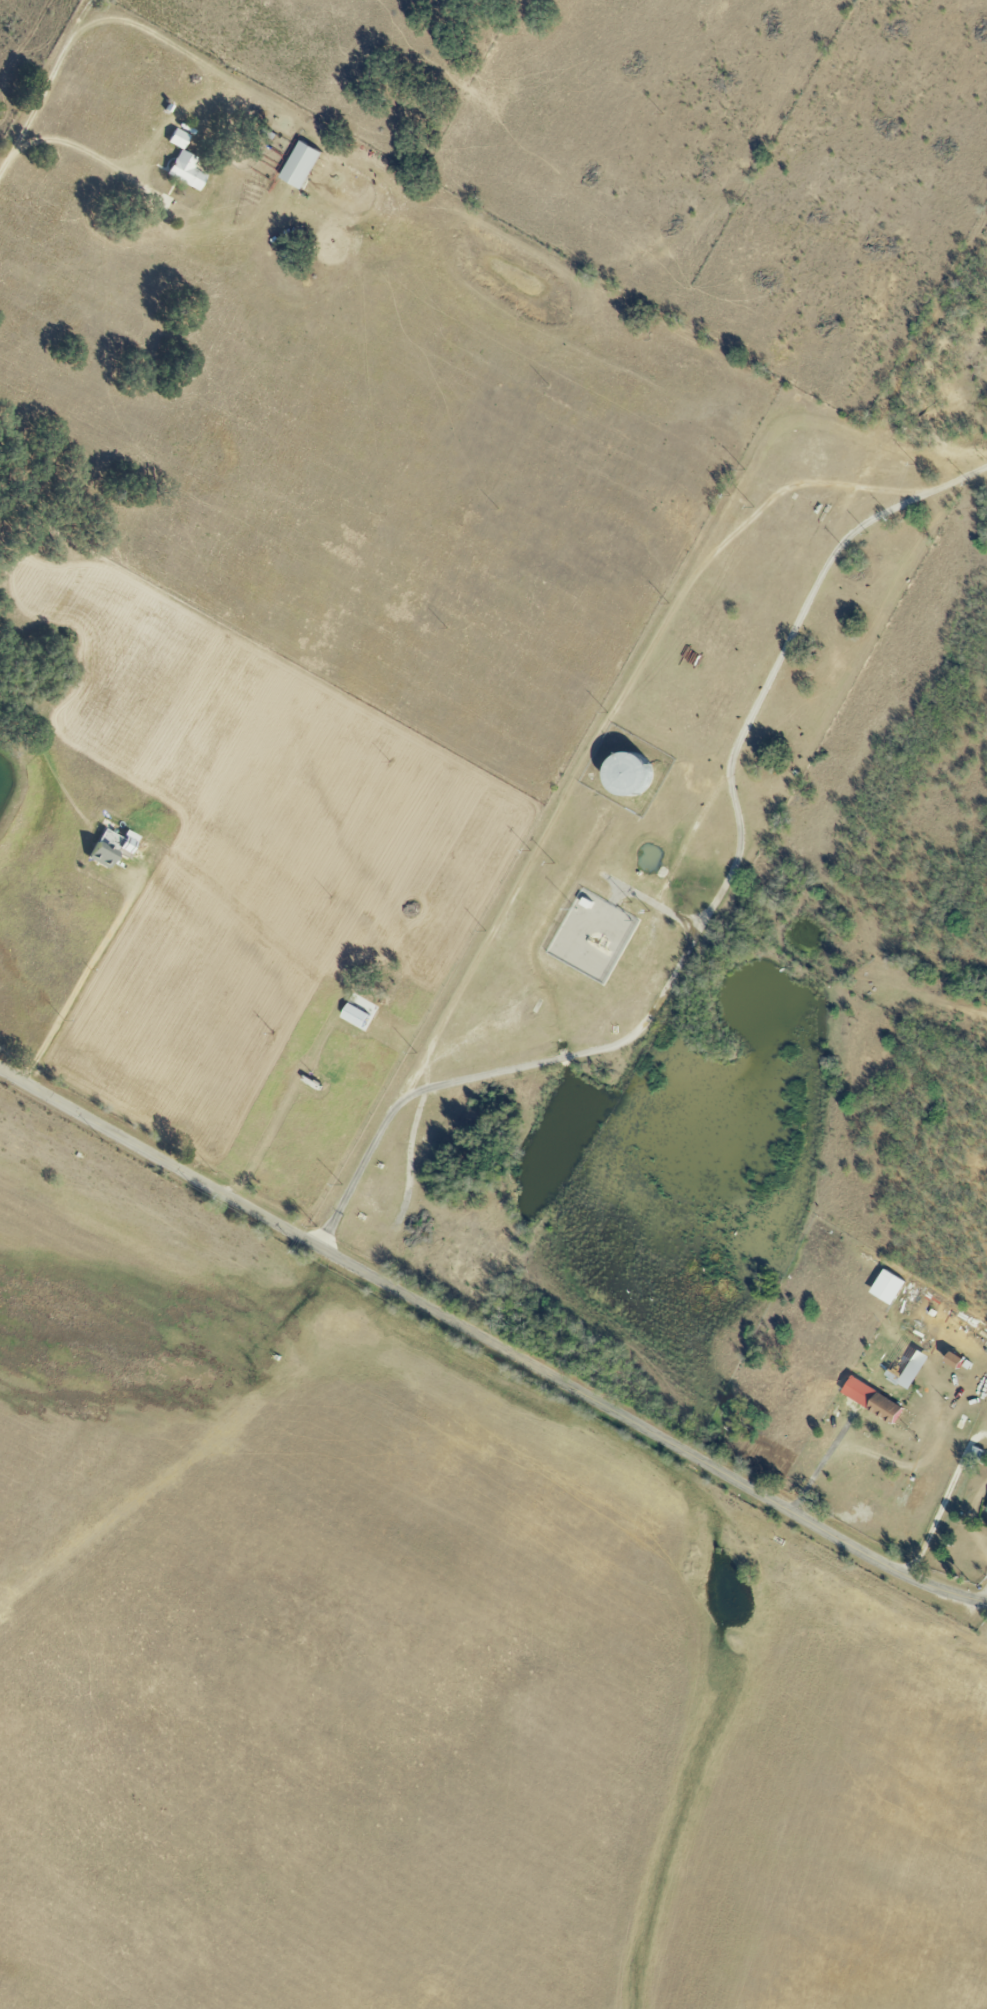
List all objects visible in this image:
road: (92, 13)
building: (177, 138)
building: (300, 165)
road: (131, 170)
building: (187, 171)
road: (458, 210)
road: (604, 727)
road: (733, 818)
building: (111, 847)
road: (81, 974)
building: (354, 1015)
road: (268, 1138)
road: (360, 1167)
road: (489, 1343)
building: (954, 1361)
building: (872, 1399)
road: (940, 1509)
building: (986, 1509)
road: (983, 1593)

